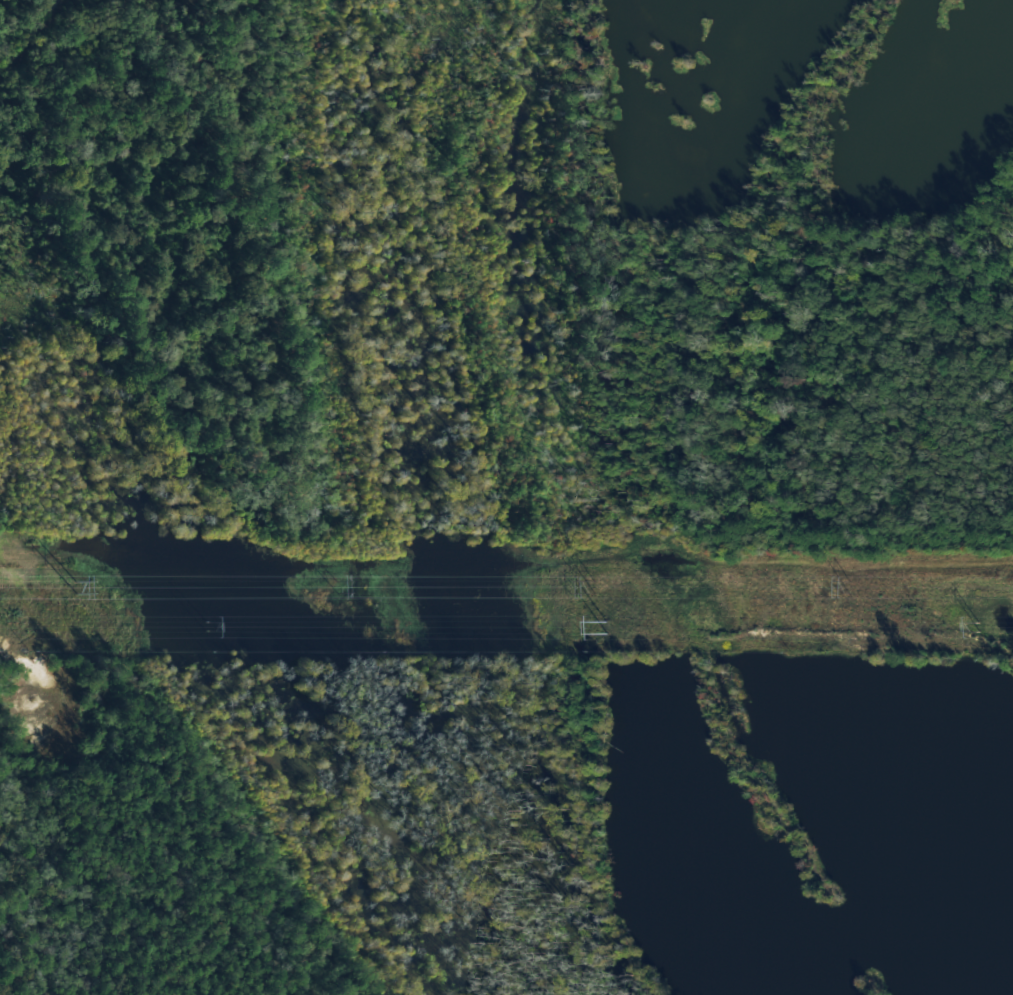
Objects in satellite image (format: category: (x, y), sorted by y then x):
road: (31, 36)
power tower: (594, 624)
power tower: (205, 629)
power tower: (977, 632)

